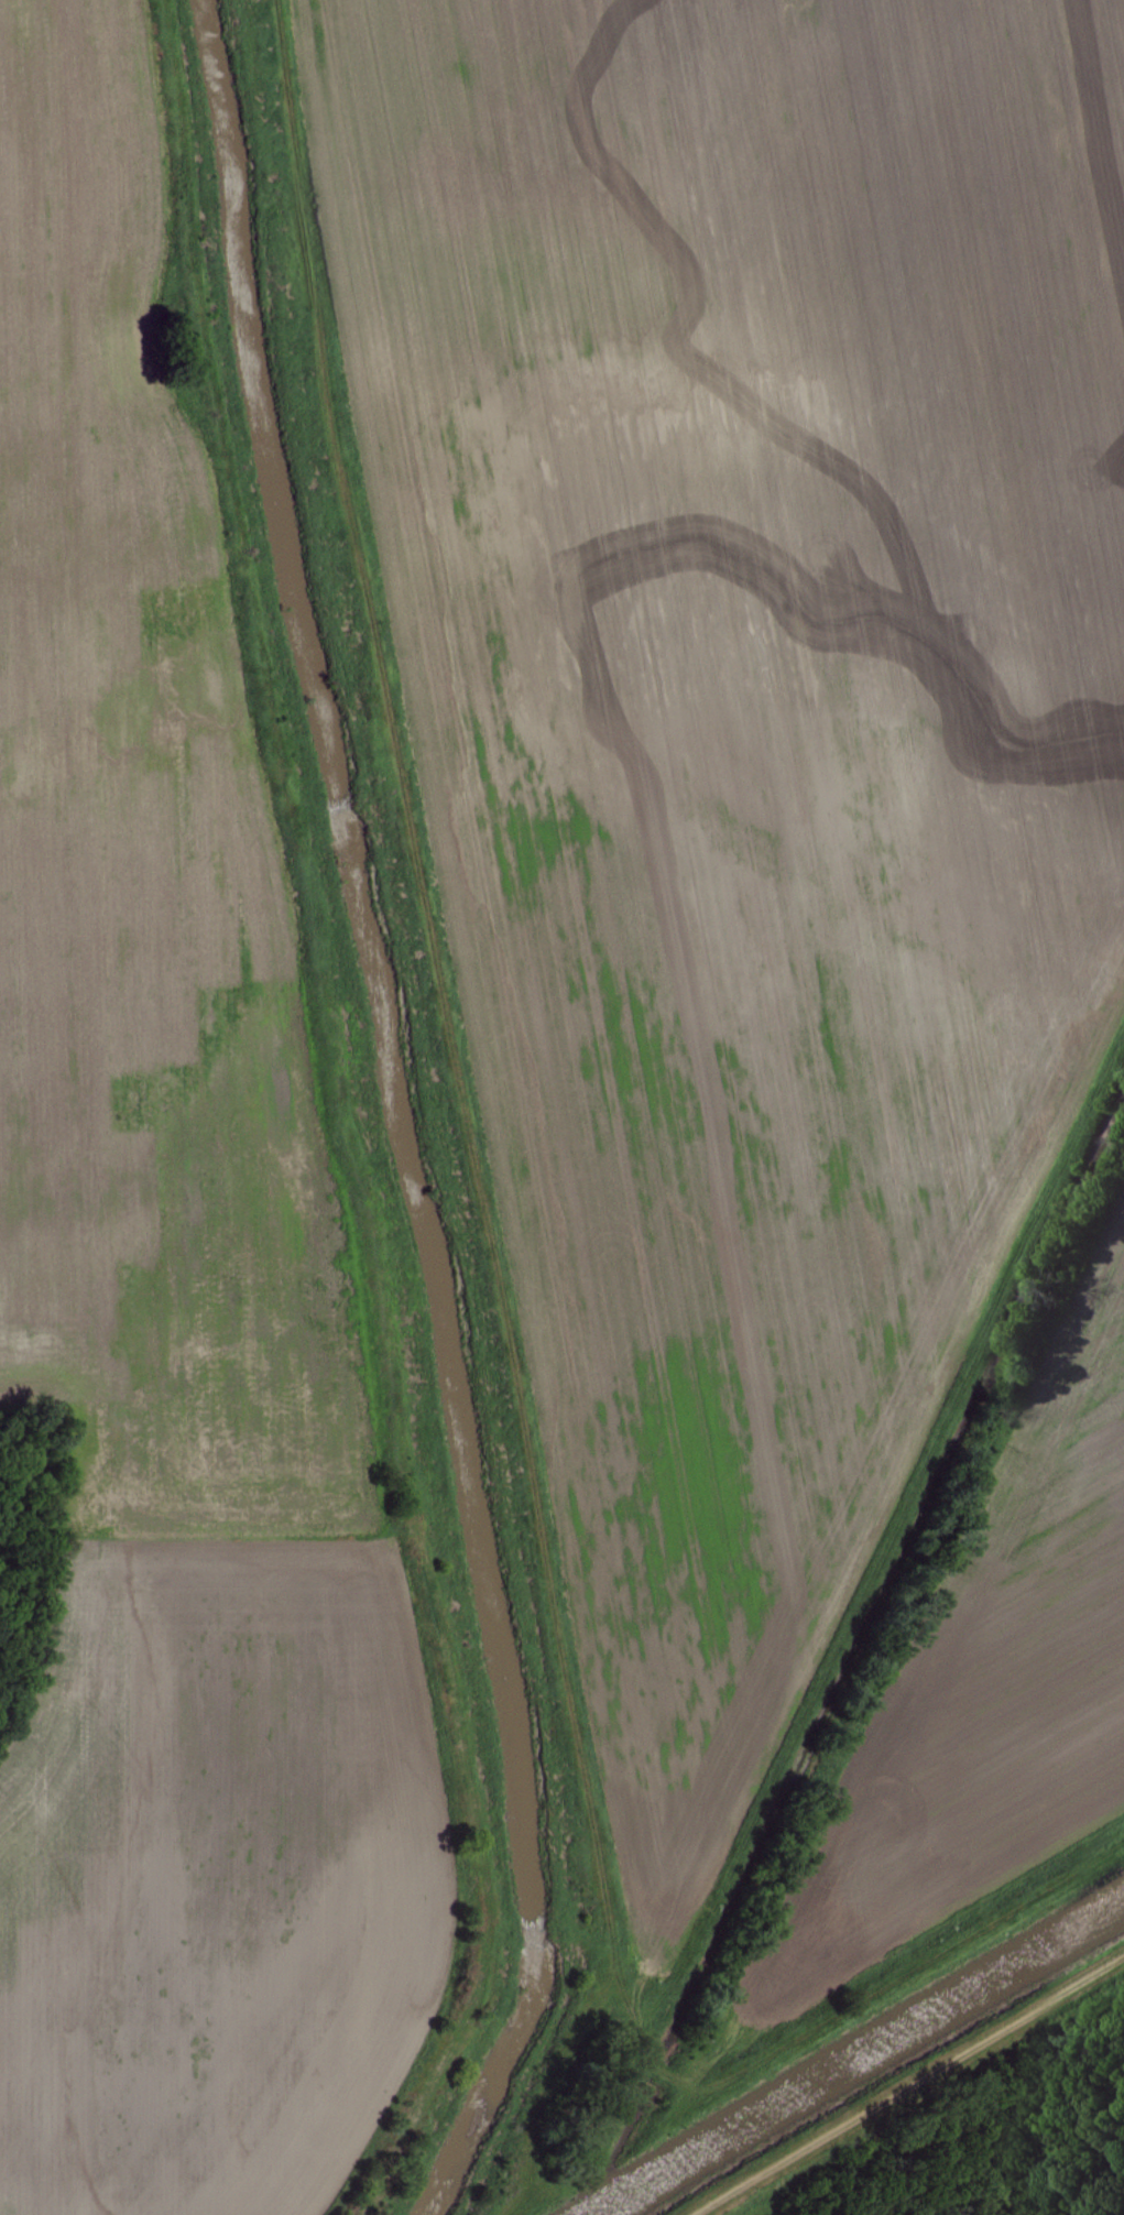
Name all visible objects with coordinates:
road: (893, 2076)

